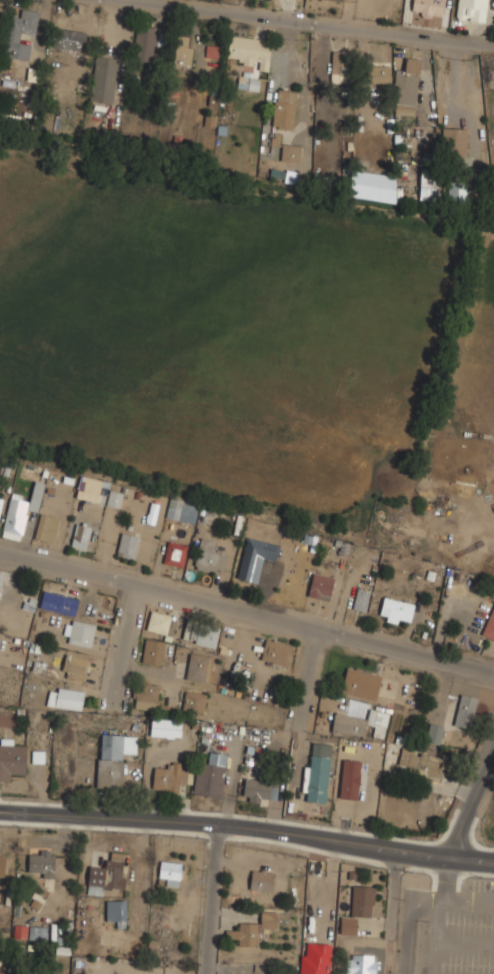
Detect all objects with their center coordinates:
building: (337, 0)
building: (428, 6)
building: (1, 9)
building: (472, 10)
road: (311, 21)
building: (21, 33)
building: (146, 41)
building: (249, 50)
building: (183, 51)
building: (211, 51)
building: (342, 66)
building: (379, 73)
building: (104, 79)
building: (249, 82)
building: (407, 87)
building: (284, 108)
building: (211, 120)
building: (456, 141)
building: (290, 152)
building: (428, 184)
building: (372, 186)
building: (457, 192)
crop: (222, 323)
crop: (475, 374)
building: (92, 489)
building: (115, 498)
building: (1, 503)
building: (182, 509)
building: (20, 511)
building: (46, 527)
building: (82, 535)
building: (128, 545)
building: (175, 553)
building: (210, 556)
building: (256, 557)
building: (1, 579)
building: (321, 586)
building: (362, 599)
building: (59, 602)
road: (247, 607)
building: (396, 609)
building: (160, 622)
building: (490, 626)
building: (79, 632)
building: (204, 635)
road: (126, 640)
building: (153, 651)
building: (276, 652)
building: (75, 666)
road: (311, 666)
building: (200, 667)
building: (361, 683)
building: (146, 695)
building: (66, 697)
building: (194, 701)
building: (466, 710)
building: (378, 722)
building: (349, 723)
building: (166, 727)
building: (434, 733)
building: (11, 758)
building: (113, 758)
building: (421, 763)
building: (318, 772)
building: (211, 775)
building: (171, 778)
building: (349, 780)
building: (257, 790)
road: (470, 806)
road: (224, 831)
road: (470, 860)
road: (470, 862)
building: (2, 863)
building: (42, 863)
building: (107, 873)
building: (170, 873)
building: (261, 880)
road: (470, 895)
road: (208, 901)
road: (414, 906)
building: (358, 908)
building: (116, 911)
road: (392, 914)
building: (253, 929)
building: (19, 931)
parking lot: (457, 931)
building: (37, 932)
road: (434, 934)
road: (464, 943)
building: (309, 958)
building: (359, 965)
building: (0, 973)

